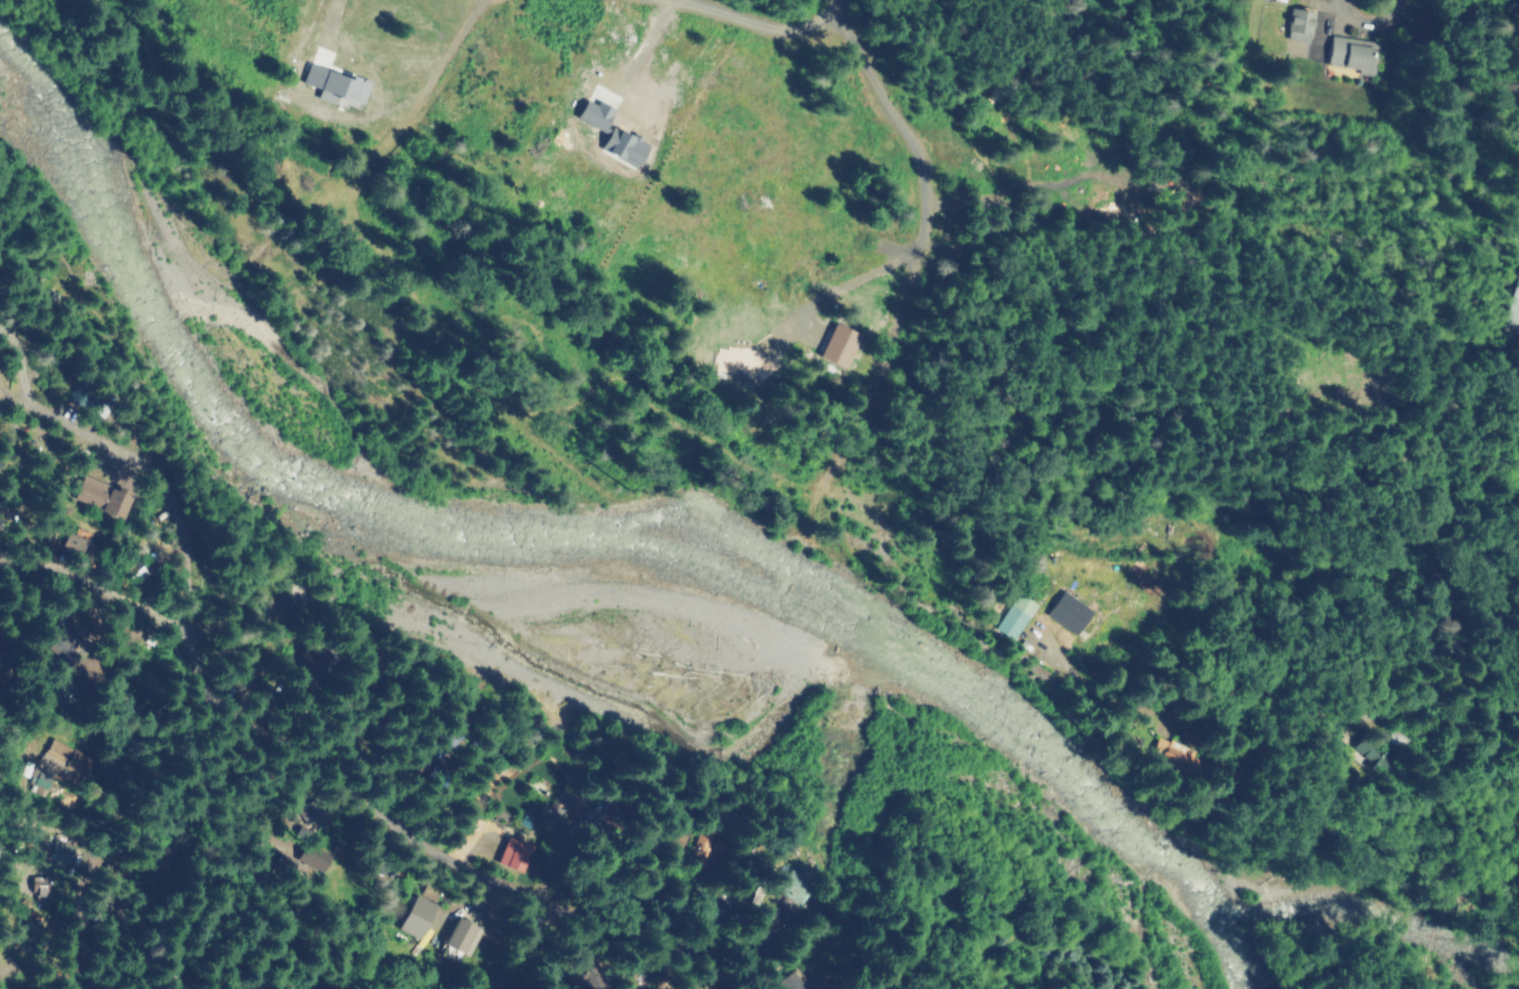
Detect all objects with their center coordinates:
road: (748, 18)
building: (1301, 24)
road: (1369, 28)
building: (1353, 53)
building: (337, 85)
building: (597, 114)
building: (626, 145)
road: (923, 243)
building: (841, 344)
building: (87, 400)
building: (103, 496)
building: (79, 550)
road: (93, 590)
building: (287, 601)
river: (557, 610)
building: (1070, 612)
building: (1014, 615)
road: (1365, 639)
building: (62, 654)
building: (0, 655)
building: (317, 665)
building: (76, 694)
road: (271, 739)
building: (1366, 754)
road: (69, 791)
road: (278, 797)
road: (101, 836)
building: (701, 845)
building: (62, 851)
building: (514, 854)
building: (39, 885)
building: (791, 889)
road: (353, 911)
building: (417, 917)
building: (463, 936)
road: (518, 947)
building: (790, 981)

